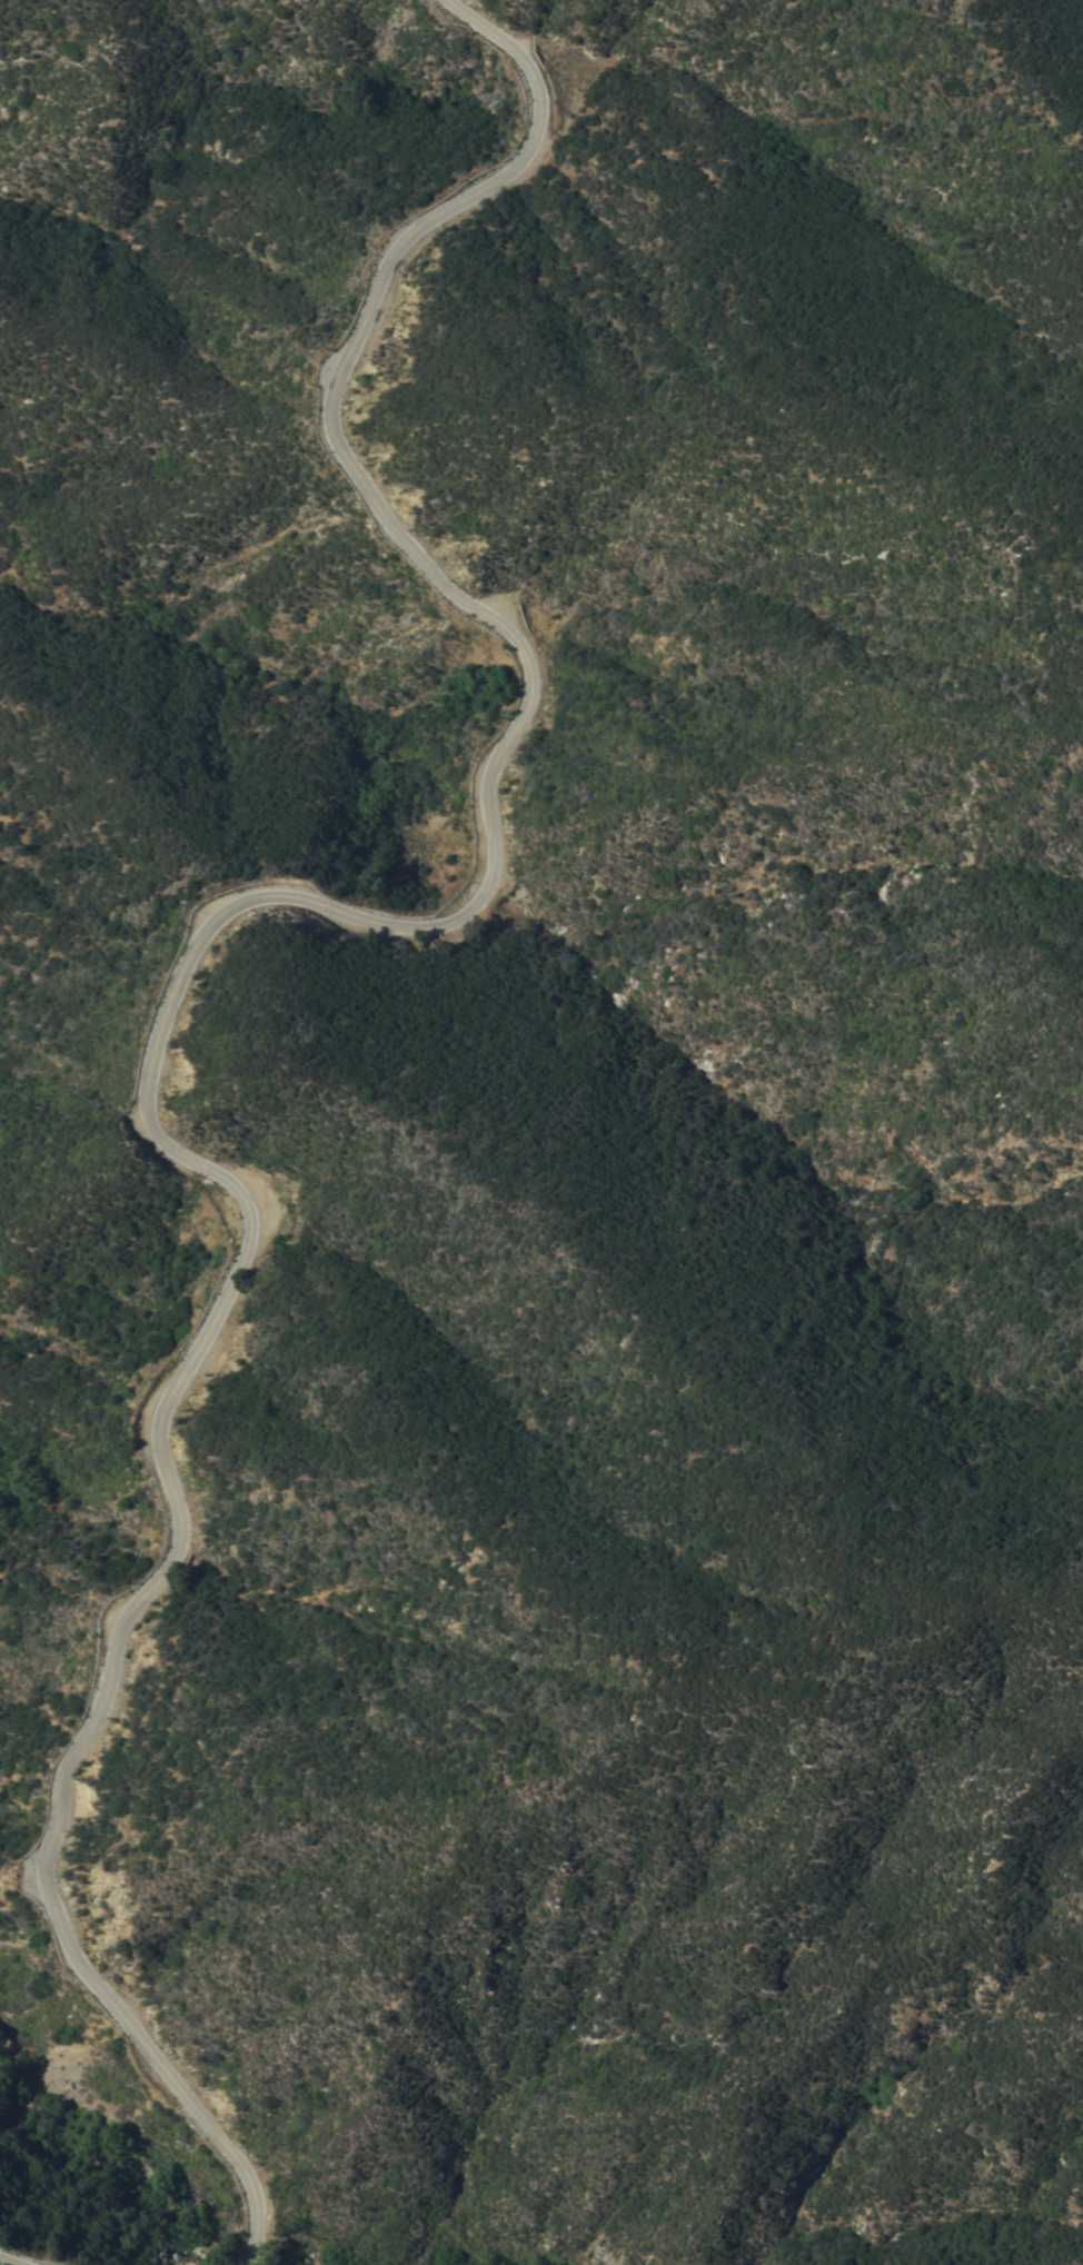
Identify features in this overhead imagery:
road: (181, 978)
road: (9, 2261)

